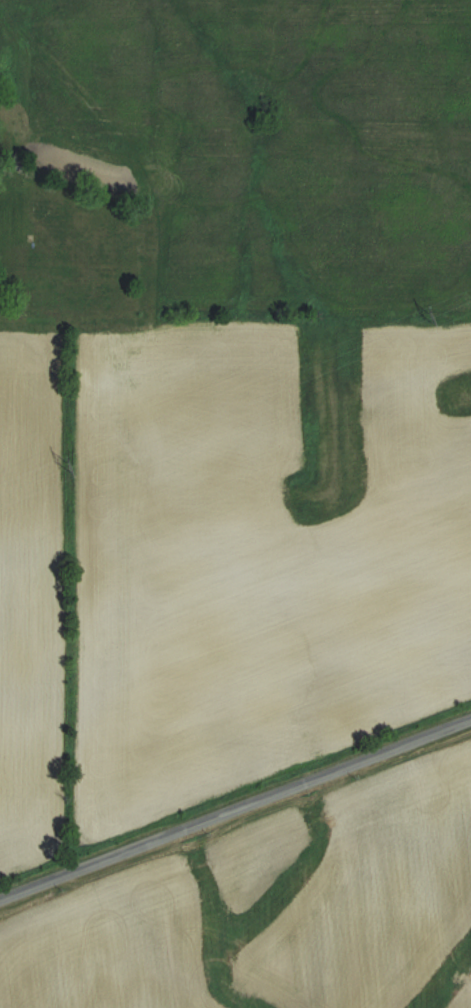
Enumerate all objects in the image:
road: (235, 794)

